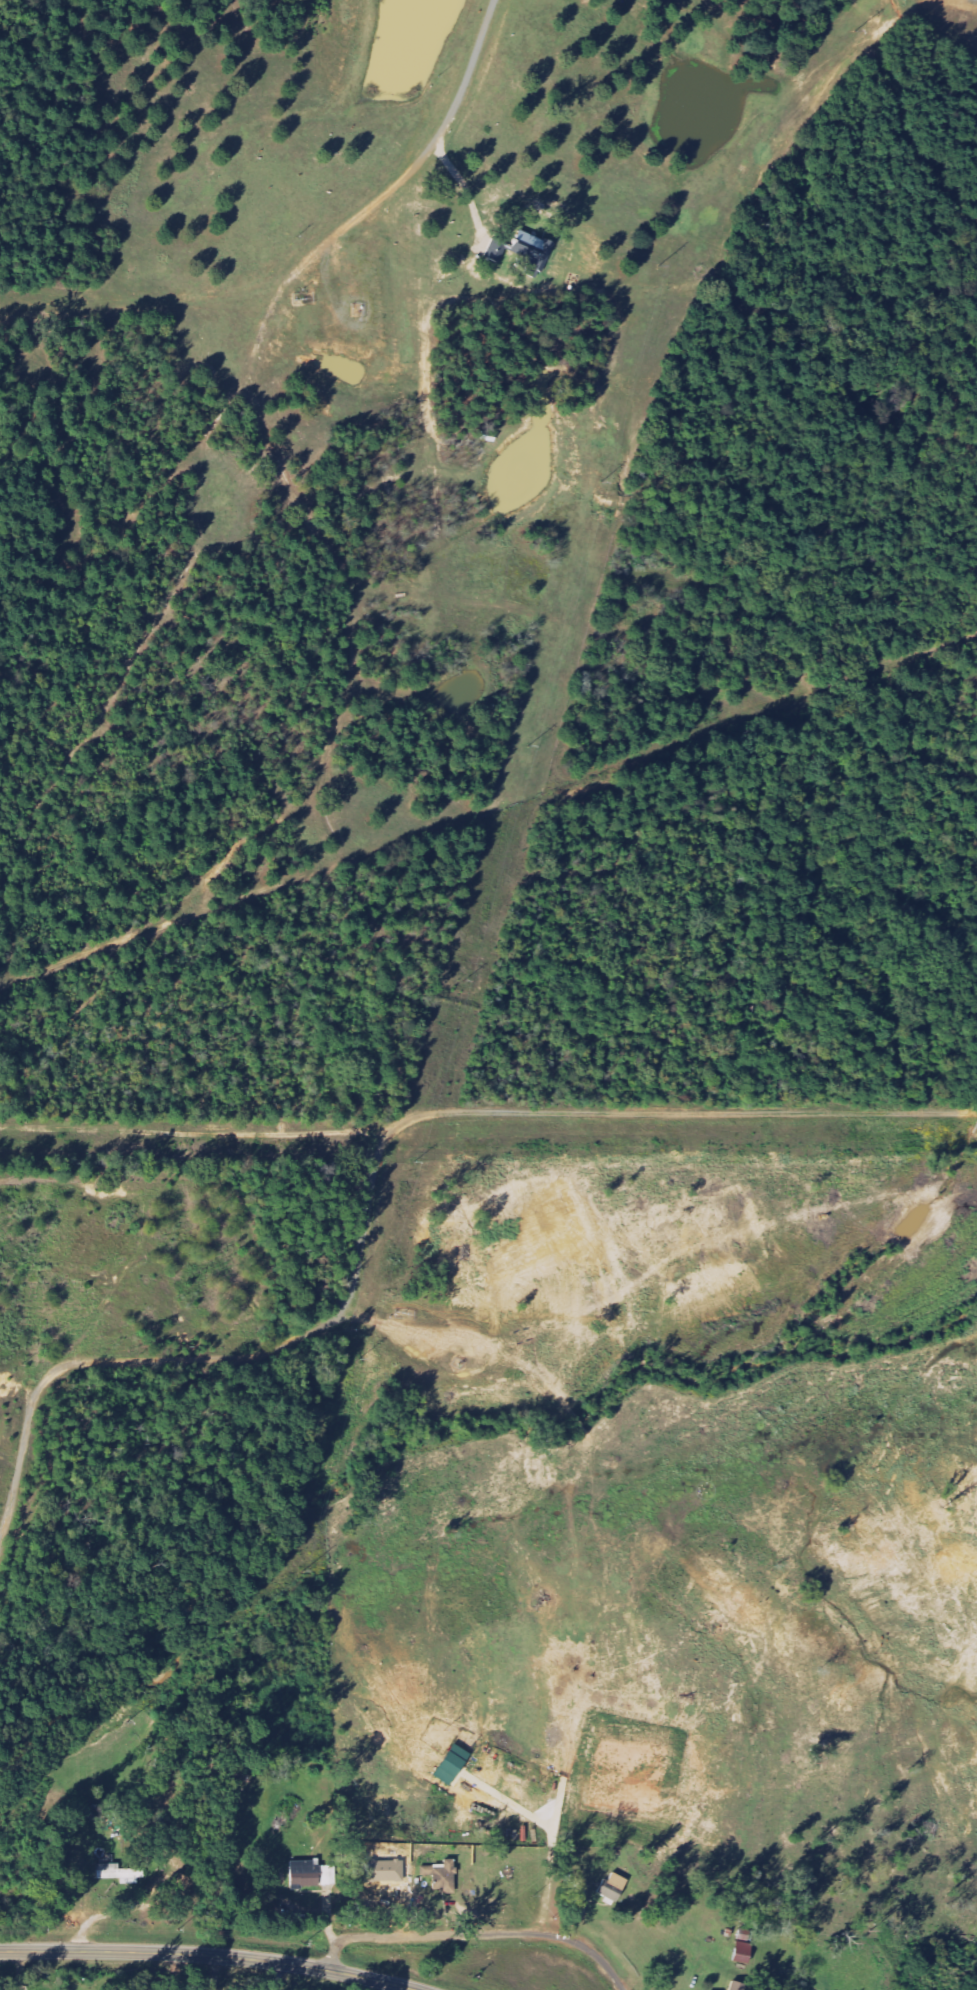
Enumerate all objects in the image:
building: (497, 251)
building: (533, 252)
building: (454, 1765)
building: (315, 1872)
building: (122, 1873)
building: (615, 1887)
road: (111, 1913)
road: (476, 1933)
building: (746, 1947)
road: (209, 1955)
building: (739, 1986)

